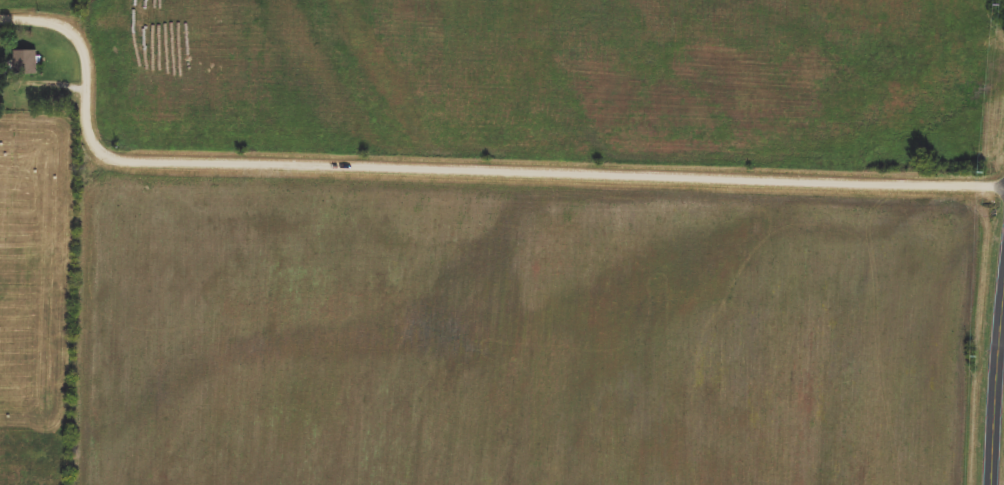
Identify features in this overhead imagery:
building: (25, 62)
road: (452, 167)
road: (1000, 398)

